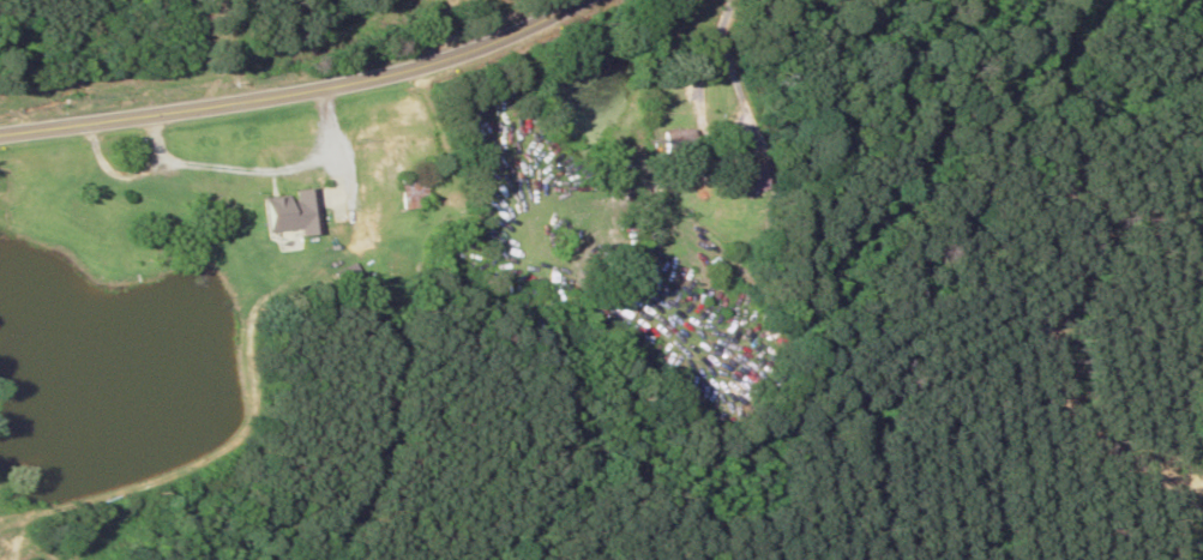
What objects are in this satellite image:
road: (297, 89)
building: (676, 141)
building: (741, 180)
building: (216, 191)
building: (402, 194)
building: (527, 324)

